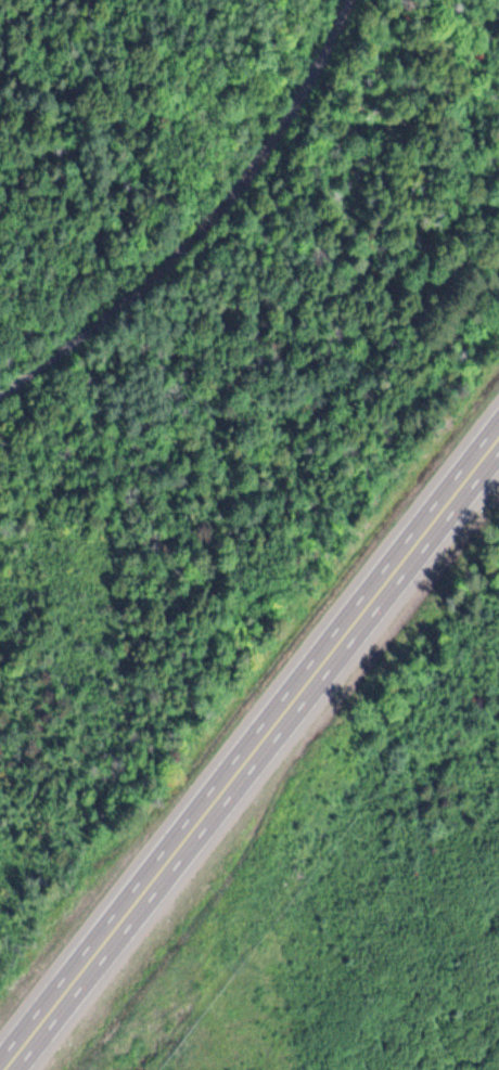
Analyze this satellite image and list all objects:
road: (205, 224)
road: (252, 757)
airport: (386, 926)

